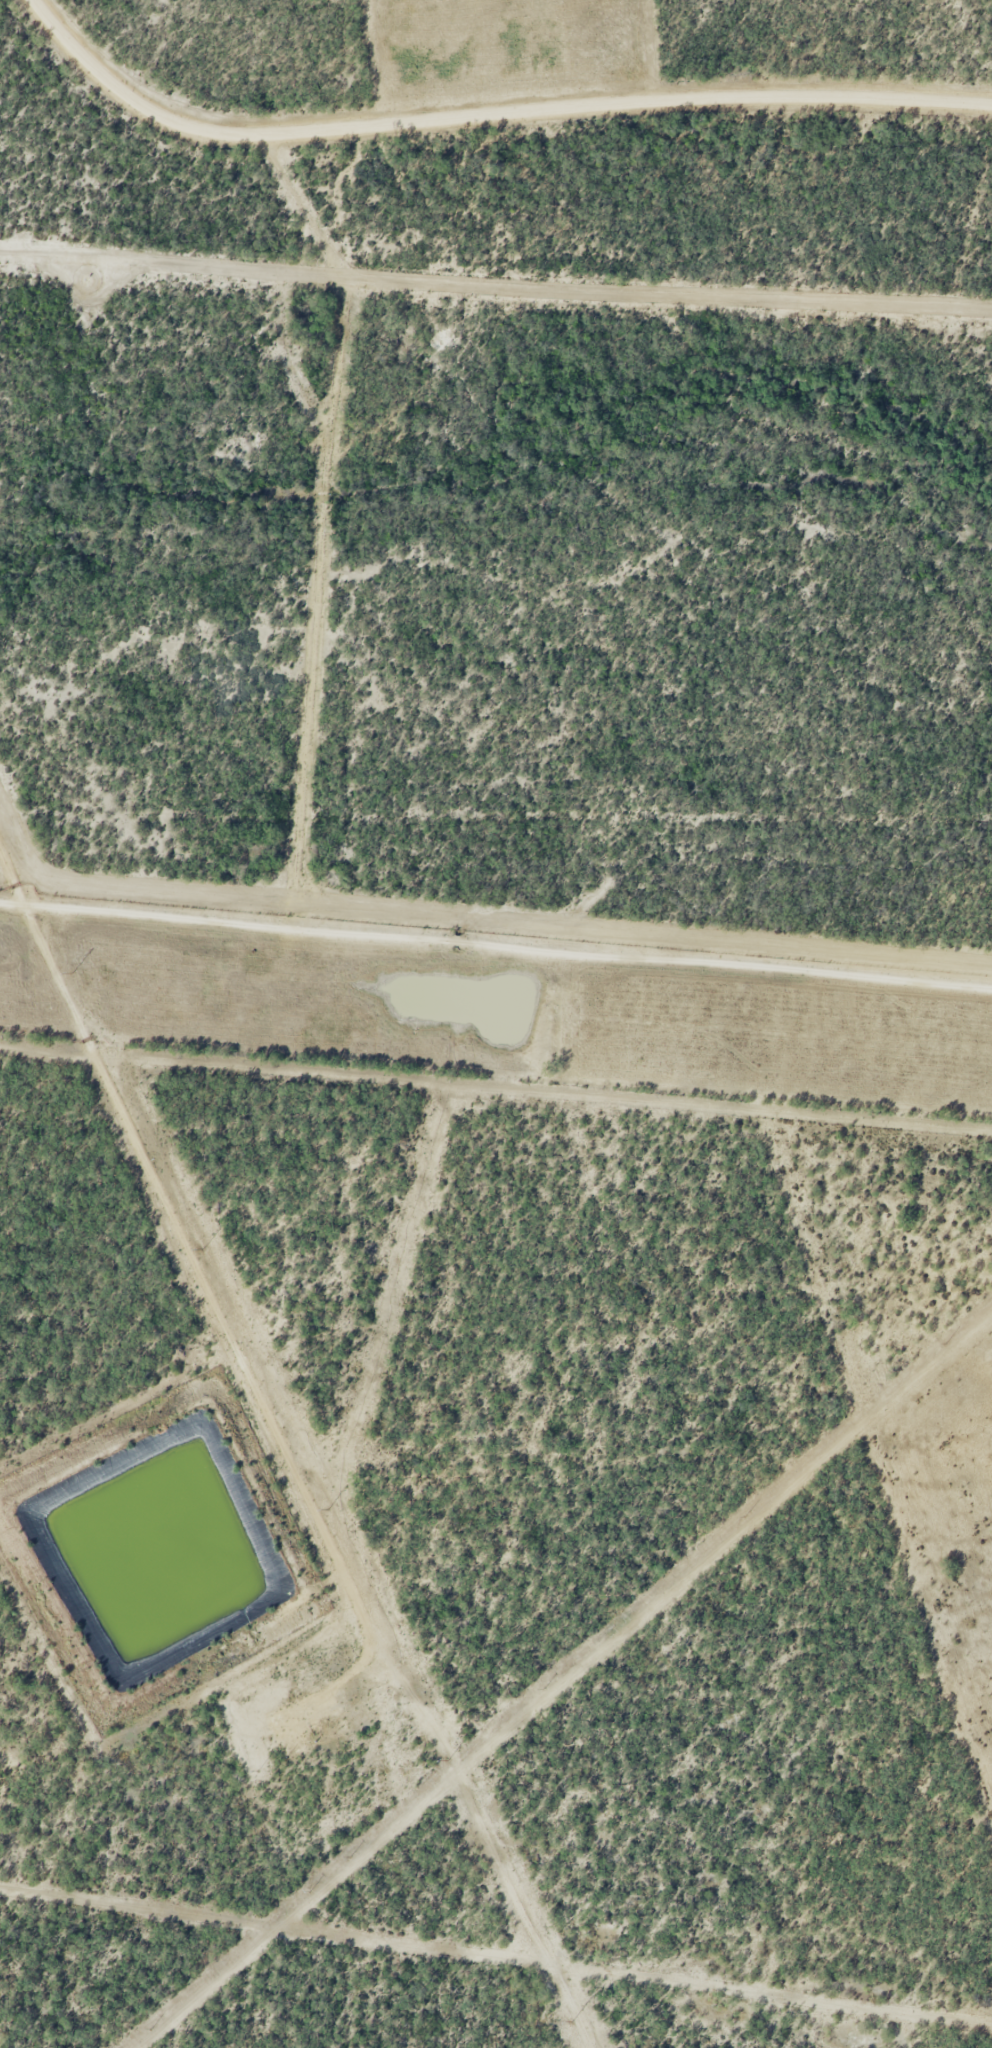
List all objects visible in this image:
road: (489, 115)
road: (495, 947)
power tower: (72, 970)
power tower: (204, 1248)
power tower: (447, 1757)
power tower: (572, 2019)

